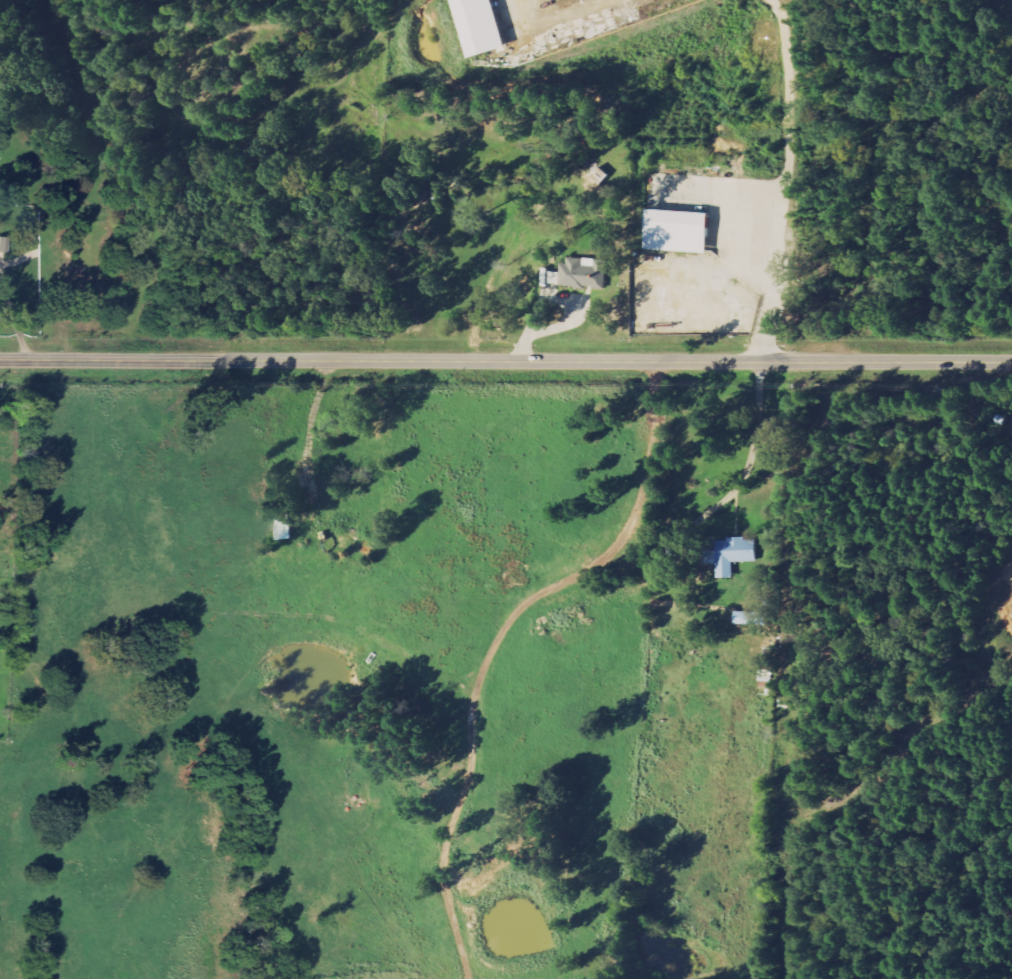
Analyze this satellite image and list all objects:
building: (487, 26)
building: (599, 180)
building: (683, 232)
building: (586, 274)
road: (505, 361)
road: (743, 473)
building: (287, 524)
building: (731, 555)
road: (497, 641)

